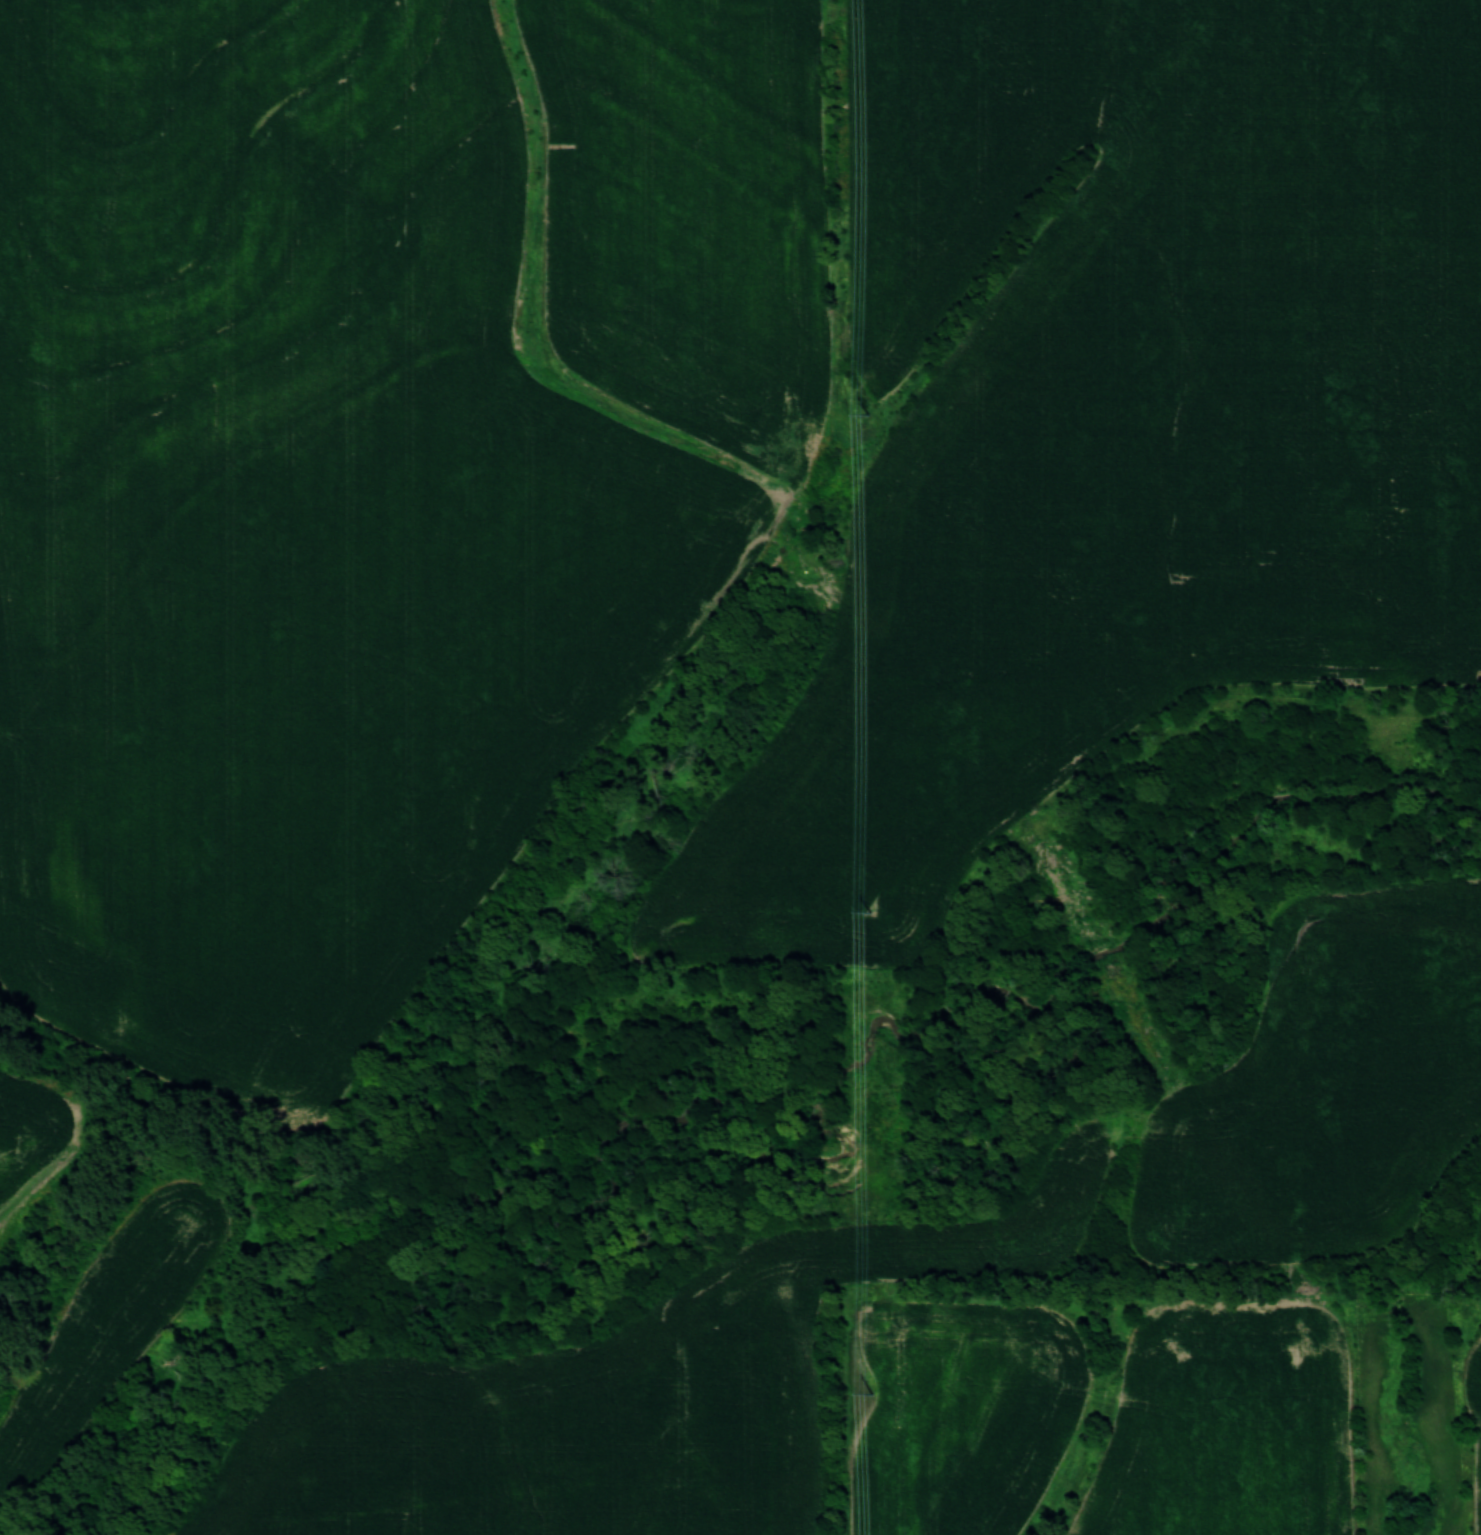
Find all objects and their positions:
power tower: (867, 414)
power tower: (867, 910)
power tower: (870, 1392)

